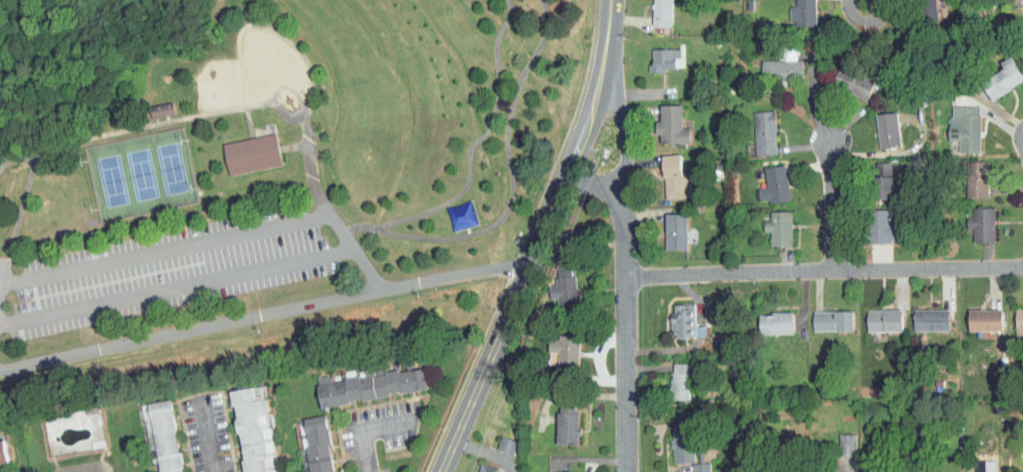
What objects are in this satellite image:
road: (865, 9)
building: (661, 12)
building: (804, 12)
building: (927, 13)
building: (1021, 15)
road: (272, 28)
road: (604, 34)
building: (655, 55)
building: (663, 59)
building: (782, 69)
building: (1002, 78)
building: (853, 82)
road: (287, 86)
building: (152, 104)
road: (586, 122)
road: (248, 123)
building: (671, 124)
road: (152, 126)
building: (965, 127)
building: (887, 129)
building: (764, 132)
road: (294, 146)
building: (243, 148)
park: (258, 171)
road: (313, 171)
park: (143, 172)
building: (675, 177)
building: (977, 178)
road: (595, 181)
building: (882, 181)
building: (775, 184)
road: (833, 197)
road: (19, 209)
road: (546, 219)
building: (982, 223)
road: (357, 227)
building: (779, 227)
building: (880, 227)
building: (675, 230)
road: (401, 236)
road: (356, 248)
road: (160, 250)
road: (0, 264)
road: (625, 267)
road: (823, 268)
parking lot: (171, 269)
building: (554, 279)
road: (177, 283)
building: (566, 291)
road: (263, 315)
building: (930, 319)
building: (985, 319)
building: (682, 320)
building: (832, 320)
building: (884, 320)
building: (776, 322)
building: (1019, 326)
building: (566, 351)
road: (483, 368)
building: (670, 375)
building: (537, 376)
building: (362, 378)
building: (679, 382)
building: (558, 419)
building: (244, 426)
building: (567, 426)
building: (154, 430)
road: (205, 438)
building: (497, 438)
building: (838, 438)
building: (312, 440)
building: (685, 440)
building: (847, 444)
building: (506, 445)
road: (365, 451)
building: (691, 464)
building: (973, 464)
building: (986, 466)
building: (700, 467)
building: (487, 468)
building: (557, 469)
building: (822, 470)
building: (768, 471)
building: (871, 471)
building: (934, 471)

